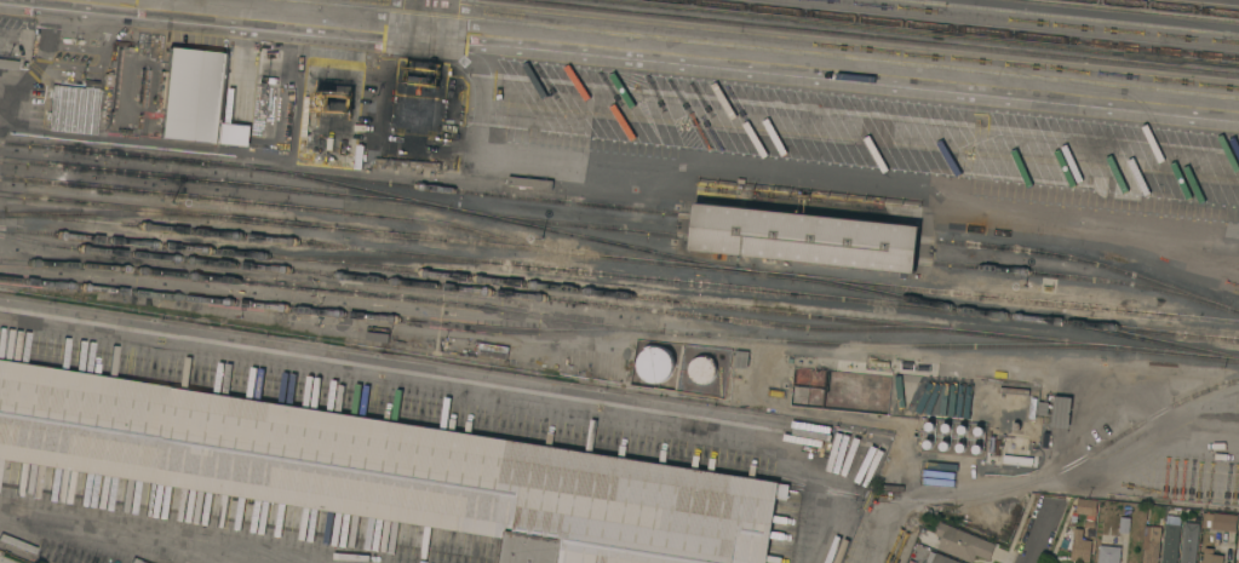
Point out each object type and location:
railway: (1169, 6)
road: (426, 22)
road: (212, 23)
railway: (957, 28)
railway: (887, 36)
building: (25, 41)
building: (8, 63)
building: (194, 94)
building: (74, 107)
building: (408, 162)
railway: (346, 177)
building: (530, 182)
railway: (342, 184)
railway: (345, 194)
railway: (99, 205)
railway: (298, 207)
railway: (115, 213)
building: (805, 237)
railway: (608, 242)
railway: (377, 259)
railway: (1083, 259)
railway: (719, 268)
railway: (619, 275)
railway: (1072, 276)
railway: (329, 289)
railway: (475, 291)
railway: (619, 294)
railway: (899, 295)
railway: (563, 331)
building: (378, 335)
railway: (1146, 338)
building: (434, 343)
building: (741, 358)
building: (655, 363)
building: (702, 368)
road: (468, 393)
building: (1061, 410)
building: (388, 470)
railway: (1063, 470)
building: (1086, 506)
building: (1220, 521)
road: (137, 533)
road: (1040, 534)
building: (1171, 539)
building: (1238, 540)
building: (963, 542)
building: (1152, 544)
building: (1189, 544)
building: (1080, 546)
building: (1109, 550)
building: (940, 558)
building: (1211, 558)

